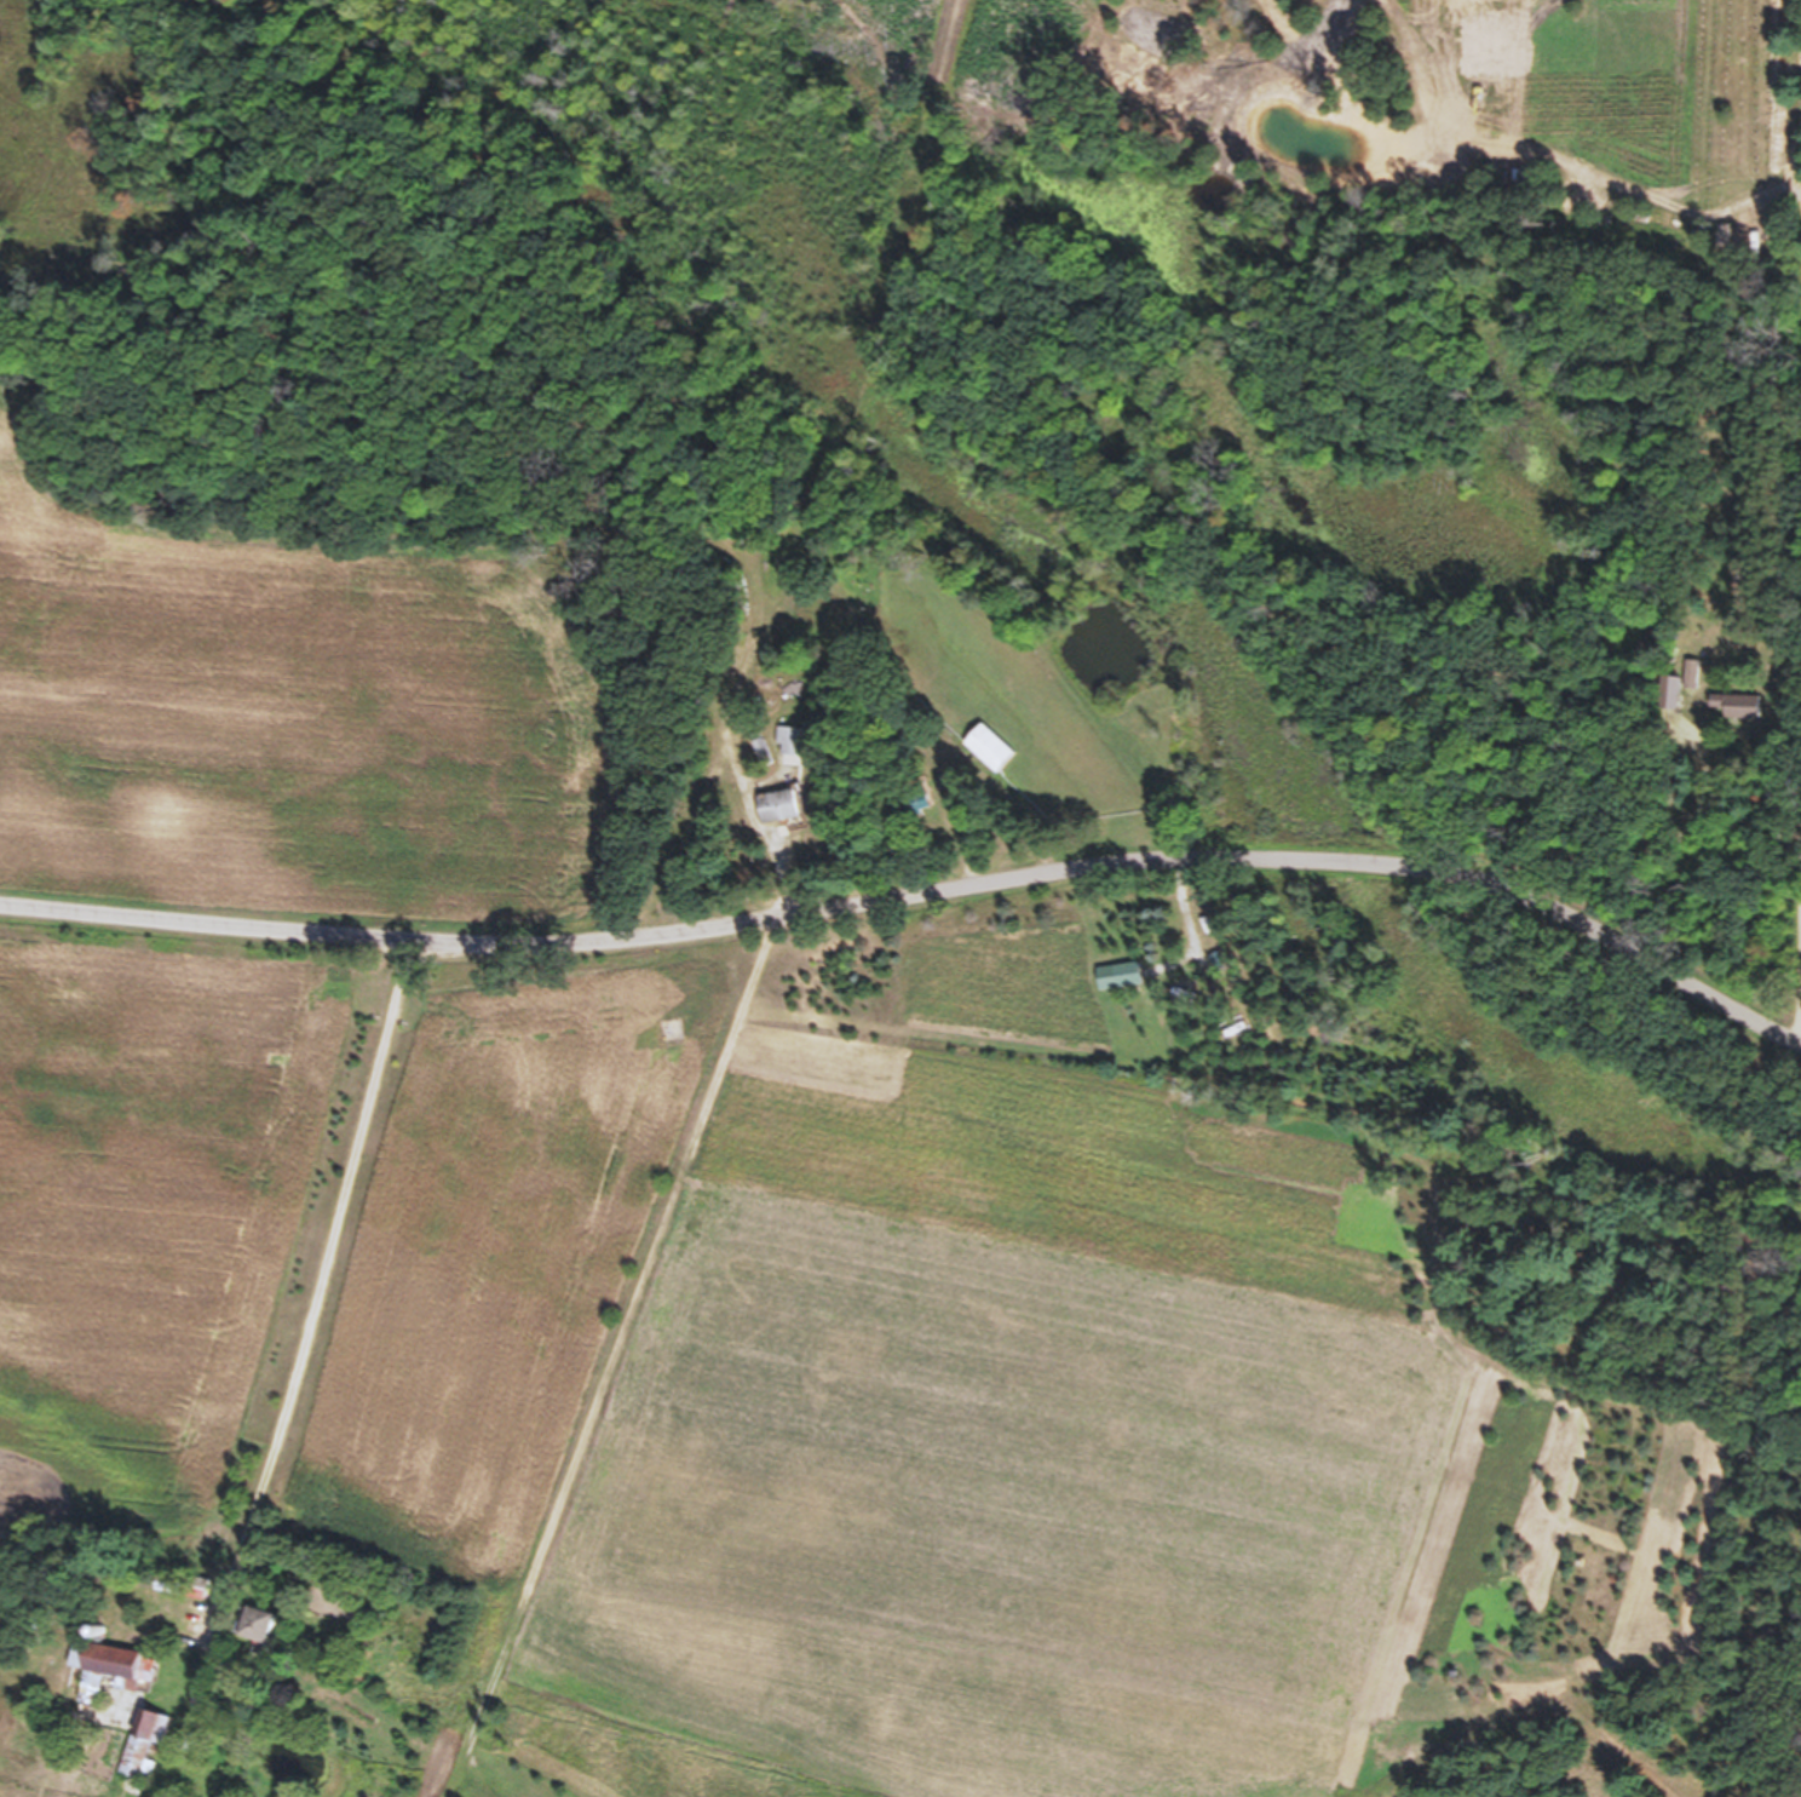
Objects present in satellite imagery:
road: (1789, 505)
building: (1730, 714)
building: (792, 751)
building: (989, 757)
building: (781, 816)
road: (916, 907)
building: (1128, 984)
road: (328, 1229)
building: (5, 1551)
building: (261, 1636)
building: (114, 1673)
building: (144, 1753)

